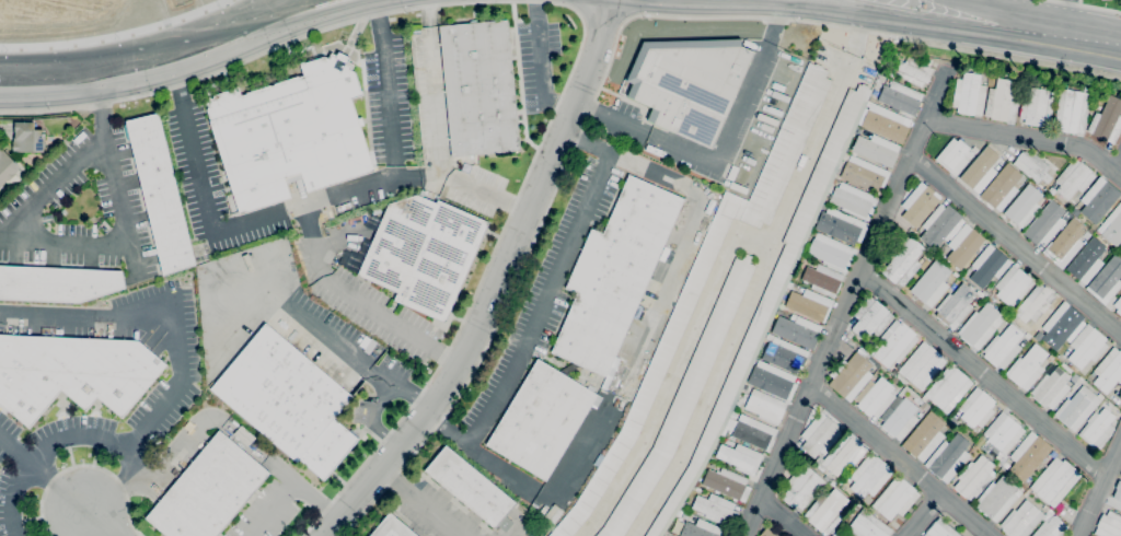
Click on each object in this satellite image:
road: (756, 0)
road: (820, 2)
road: (931, 2)
road: (947, 2)
road: (1085, 5)
road: (1053, 11)
road: (579, 15)
road: (880, 16)
road: (944, 16)
road: (1033, 19)
road: (1067, 24)
road: (111, 34)
road: (1031, 43)
road: (146, 51)
building: (894, 54)
road: (610, 61)
building: (927, 61)
road: (187, 63)
road: (539, 67)
building: (912, 71)
building: (1006, 73)
building: (1032, 79)
building: (689, 84)
road: (435, 86)
road: (386, 89)
building: (479, 89)
building: (1087, 89)
building: (969, 94)
building: (901, 97)
road: (97, 98)
building: (1002, 101)
building: (870, 105)
building: (1037, 107)
building: (1072, 110)
building: (1107, 120)
building: (887, 124)
building: (290, 133)
building: (27, 138)
road: (1027, 138)
building: (877, 150)
road: (721, 152)
building: (955, 155)
building: (1032, 166)
building: (7, 167)
road: (903, 171)
building: (864, 174)
building: (980, 174)
road: (200, 176)
road: (409, 178)
building: (1074, 178)
road: (53, 185)
building: (1002, 188)
building: (1051, 191)
building: (161, 194)
building: (1098, 199)
building: (853, 200)
building: (920, 205)
building: (1024, 206)
building: (1076, 209)
building: (1067, 215)
building: (1045, 224)
building: (940, 225)
building: (841, 226)
building: (1113, 226)
building: (911, 231)
building: (1065, 243)
road: (122, 244)
road: (1015, 244)
building: (964, 245)
building: (831, 252)
building: (423, 254)
building: (903, 260)
building: (1087, 260)
building: (989, 266)
road: (763, 271)
building: (968, 271)
building: (615, 275)
building: (955, 275)
building: (822, 279)
building: (1106, 280)
building: (57, 283)
road: (497, 284)
building: (932, 284)
building: (1013, 286)
building: (981, 295)
building: (991, 296)
building: (770, 298)
road: (359, 300)
road: (544, 302)
building: (1035, 303)
building: (810, 304)
building: (1118, 305)
building: (955, 306)
building: (1014, 317)
building: (870, 318)
building: (981, 325)
building: (1061, 326)
building: (673, 329)
road: (323, 330)
building: (797, 330)
building: (850, 335)
building: (1027, 336)
building: (894, 343)
building: (1087, 346)
building: (1003, 347)
building: (872, 350)
building: (784, 354)
building: (1049, 360)
building: (874, 362)
building: (922, 366)
road: (675, 368)
building: (1027, 368)
building: (1051, 368)
building: (1073, 369)
building: (1108, 371)
building: (72, 373)
road: (983, 374)
building: (850, 376)
building: (1074, 378)
building: (894, 380)
building: (1079, 380)
building: (773, 381)
building: (948, 388)
building: (1051, 388)
building: (746, 389)
road: (173, 394)
building: (875, 397)
building: (682, 399)
building: (288, 401)
road: (801, 403)
building: (765, 406)
building: (1078, 407)
building: (976, 408)
road: (373, 417)
building: (899, 418)
building: (542, 419)
building: (952, 421)
building: (948, 426)
building: (1097, 428)
building: (1004, 432)
building: (754, 433)
building: (727, 434)
building: (820, 435)
building: (924, 436)
road: (47, 448)
building: (984, 448)
building: (971, 452)
building: (842, 454)
building: (1029, 455)
building: (948, 457)
building: (740, 458)
building: (713, 459)
building: (599, 461)
road: (900, 461)
road: (85, 465)
building: (1005, 465)
building: (869, 476)
building: (974, 477)
building: (1120, 477)
building: (1054, 481)
building: (727, 483)
building: (833, 483)
road: (290, 486)
building: (1021, 486)
building: (471, 488)
building: (804, 488)
building: (698, 490)
building: (209, 491)
road: (1099, 491)
building: (1116, 497)
building: (895, 498)
building: (997, 498)
road: (419, 502)
building: (1045, 508)
building: (716, 509)
building: (825, 511)
road: (924, 515)
building: (1021, 520)
road: (77, 522)
road: (101, 522)
building: (1109, 524)
building: (868, 525)
building: (1050, 527)
building: (391, 528)
building: (702, 529)
building: (941, 529)
building: (767, 533)
building: (843, 534)
building: (834, 535)

